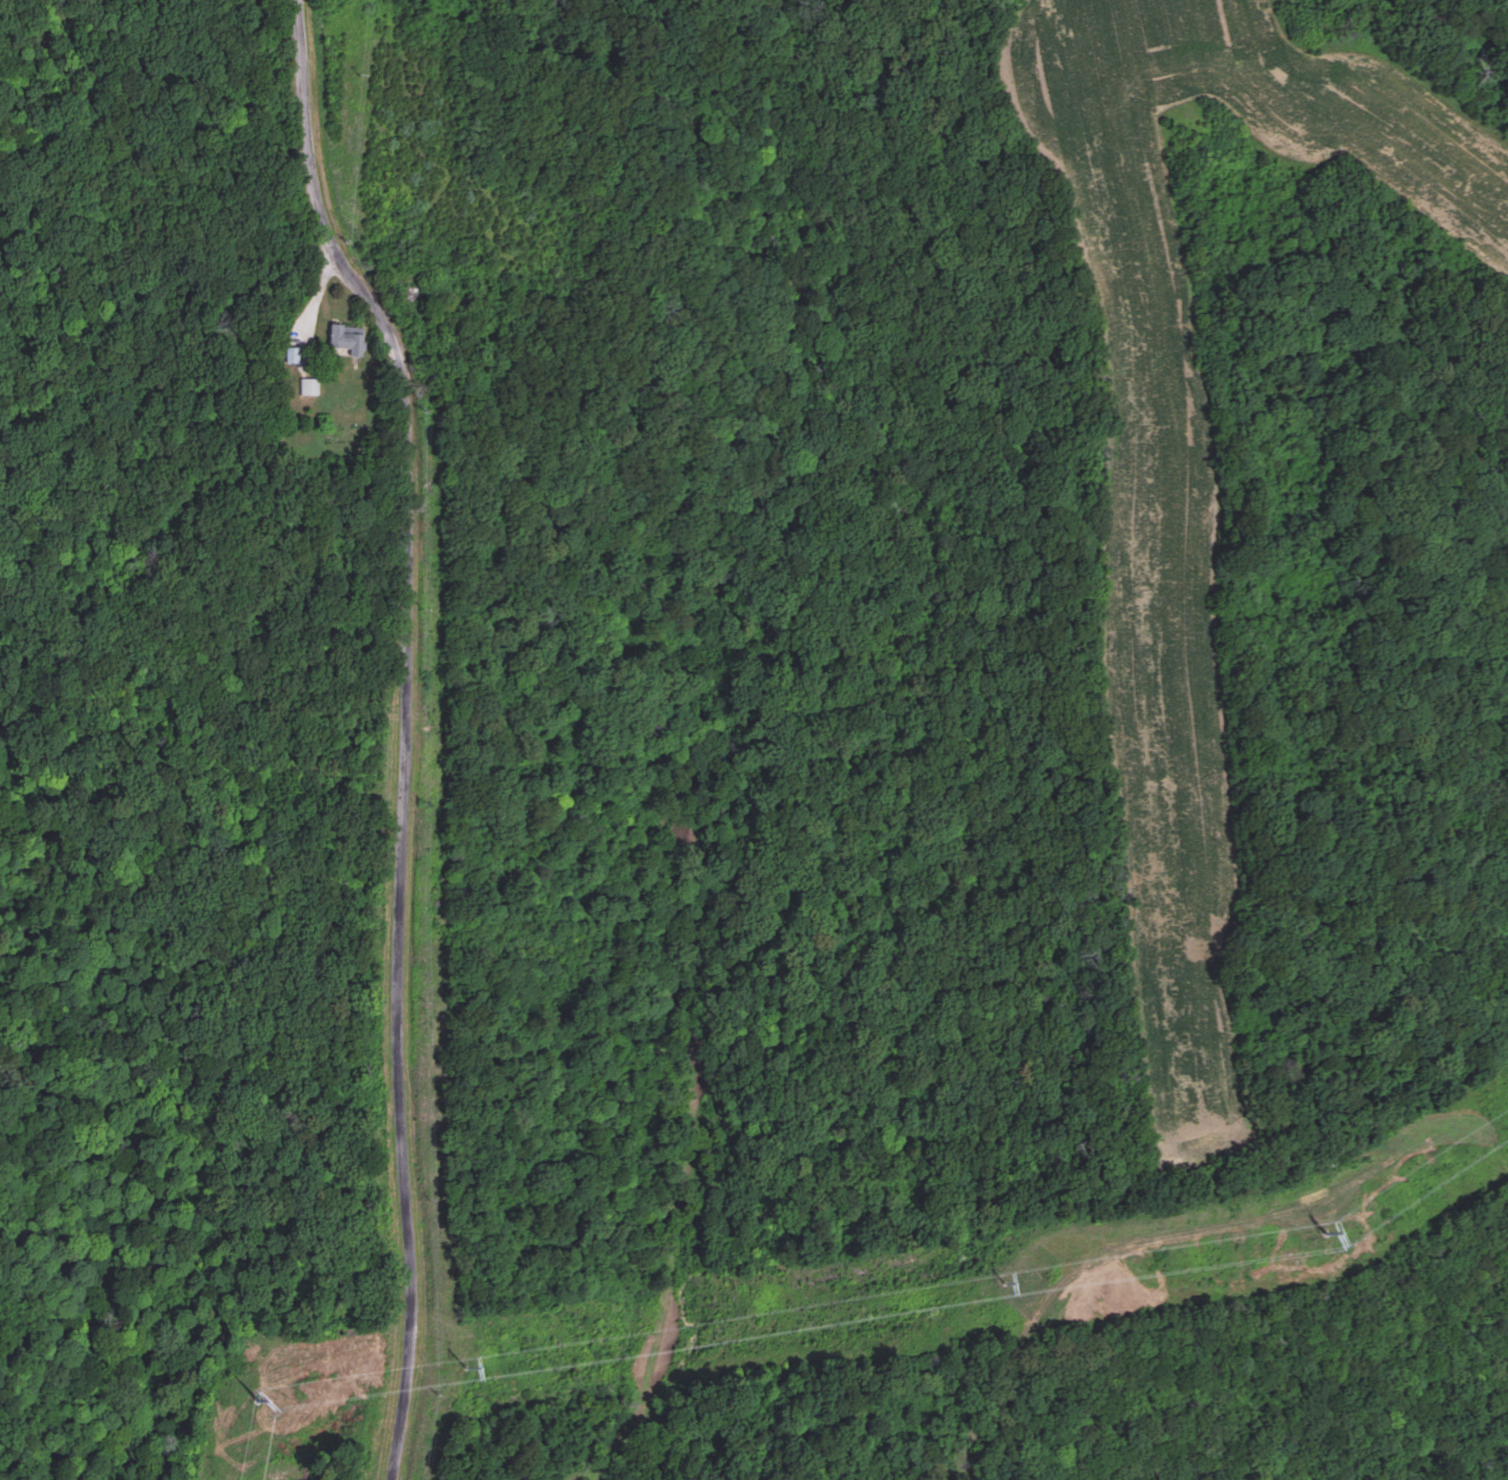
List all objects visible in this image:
building: (416, 289)
building: (347, 339)
building: (292, 355)
building: (310, 385)
road: (400, 730)
power tower: (1329, 1234)
power tower: (1002, 1284)
power tower: (468, 1366)
power tower: (255, 1400)

